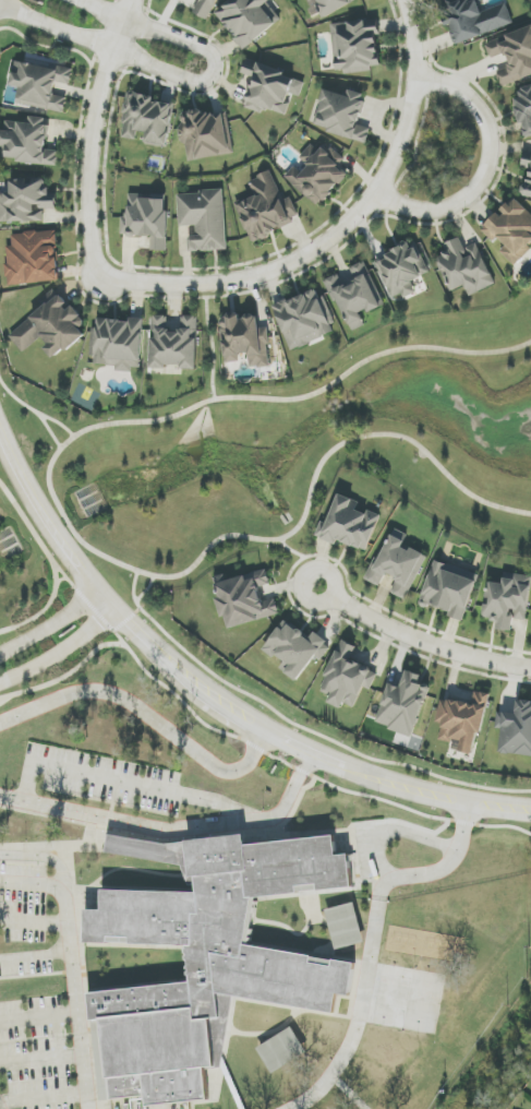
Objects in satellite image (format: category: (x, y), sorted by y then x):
building: (331, 5)
building: (205, 8)
building: (246, 20)
building: (355, 46)
building: (512, 55)
road: (184, 79)
building: (40, 85)
building: (271, 88)
building: (524, 109)
building: (342, 115)
building: (147, 119)
building: (205, 134)
road: (92, 135)
building: (28, 142)
road: (485, 167)
building: (316, 175)
building: (528, 175)
building: (26, 201)
building: (266, 208)
building: (146, 219)
building: (204, 219)
road: (338, 230)
building: (511, 230)
building: (33, 258)
building: (466, 267)
building: (402, 269)
building: (355, 296)
building: (305, 319)
building: (51, 326)
building: (244, 339)
road: (210, 342)
building: (118, 343)
building: (174, 343)
road: (33, 413)
road: (59, 425)
road: (67, 525)
building: (349, 525)
road: (49, 552)
road: (303, 559)
building: (398, 565)
road: (62, 579)
road: (145, 589)
building: (449, 589)
road: (132, 591)
building: (244, 598)
building: (508, 600)
road: (107, 603)
road: (46, 610)
road: (125, 620)
road: (50, 625)
road: (419, 641)
building: (295, 649)
road: (60, 652)
building: (347, 678)
road: (12, 696)
building: (403, 704)
road: (146, 714)
building: (462, 720)
building: (516, 729)
road: (318, 736)
road: (289, 742)
road: (264, 753)
road: (128, 784)
road: (421, 791)
road: (497, 827)
road: (173, 830)
road: (396, 830)
road: (172, 842)
road: (34, 885)
road: (36, 922)
building: (345, 926)
road: (372, 941)
road: (72, 954)
road: (36, 956)
building: (205, 961)
park: (406, 999)
road: (39, 1016)
building: (282, 1050)
road: (41, 1060)
road: (43, 1097)
road: (0, 1107)

